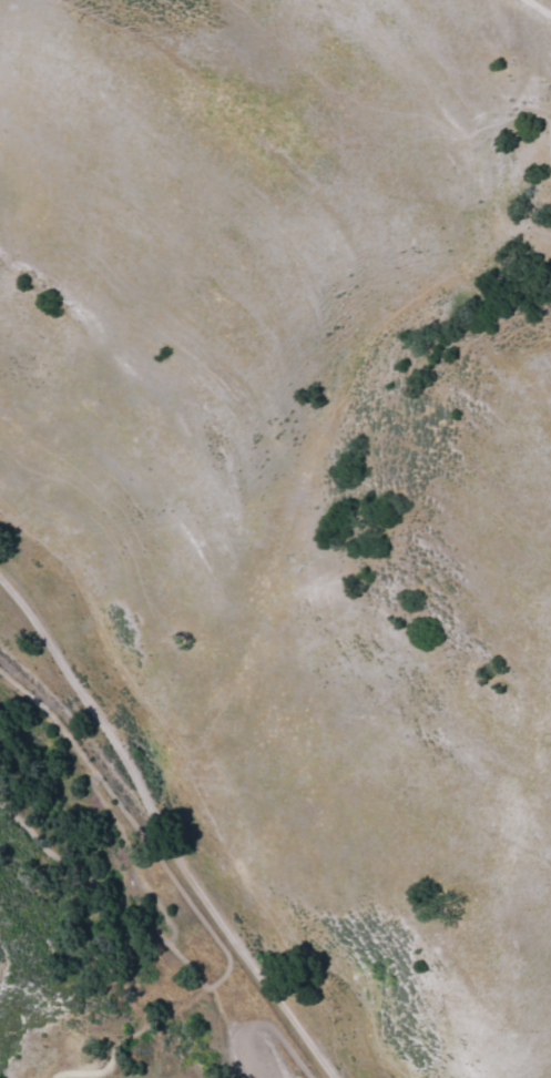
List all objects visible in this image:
road: (539, 7)

